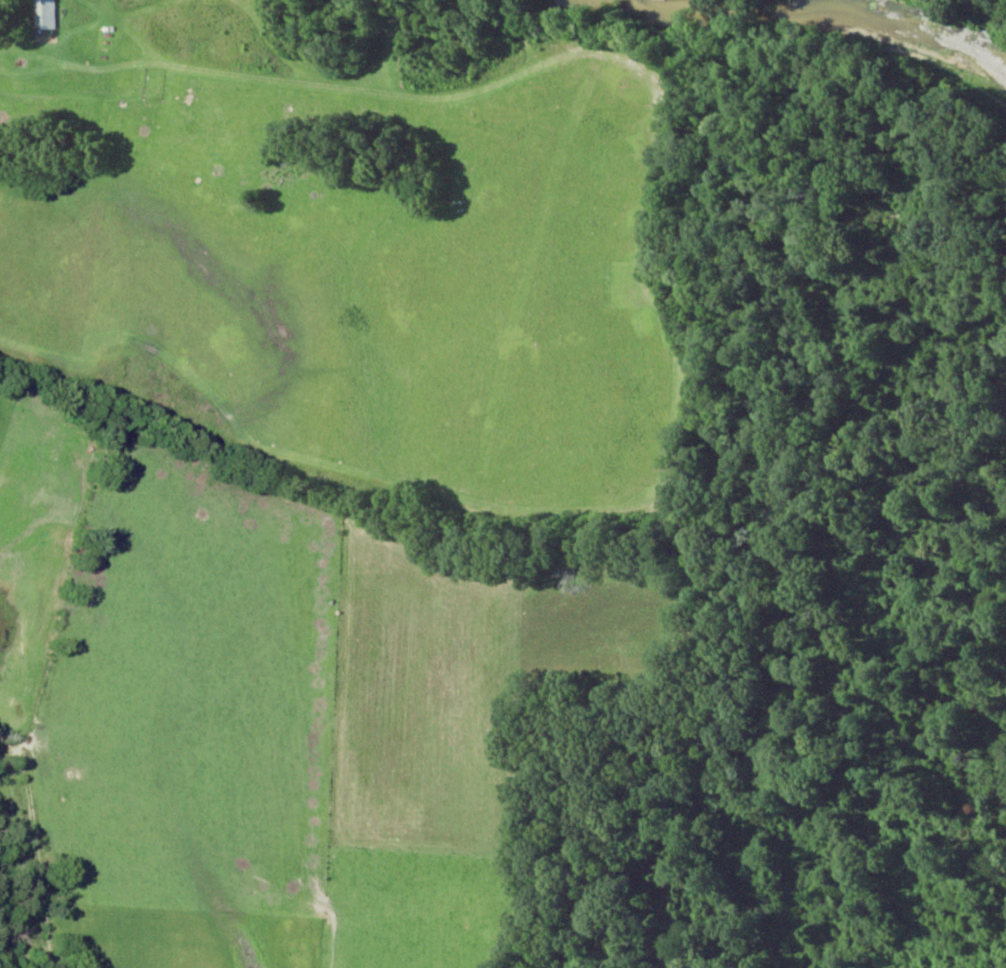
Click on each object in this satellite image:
building: (48, 14)

